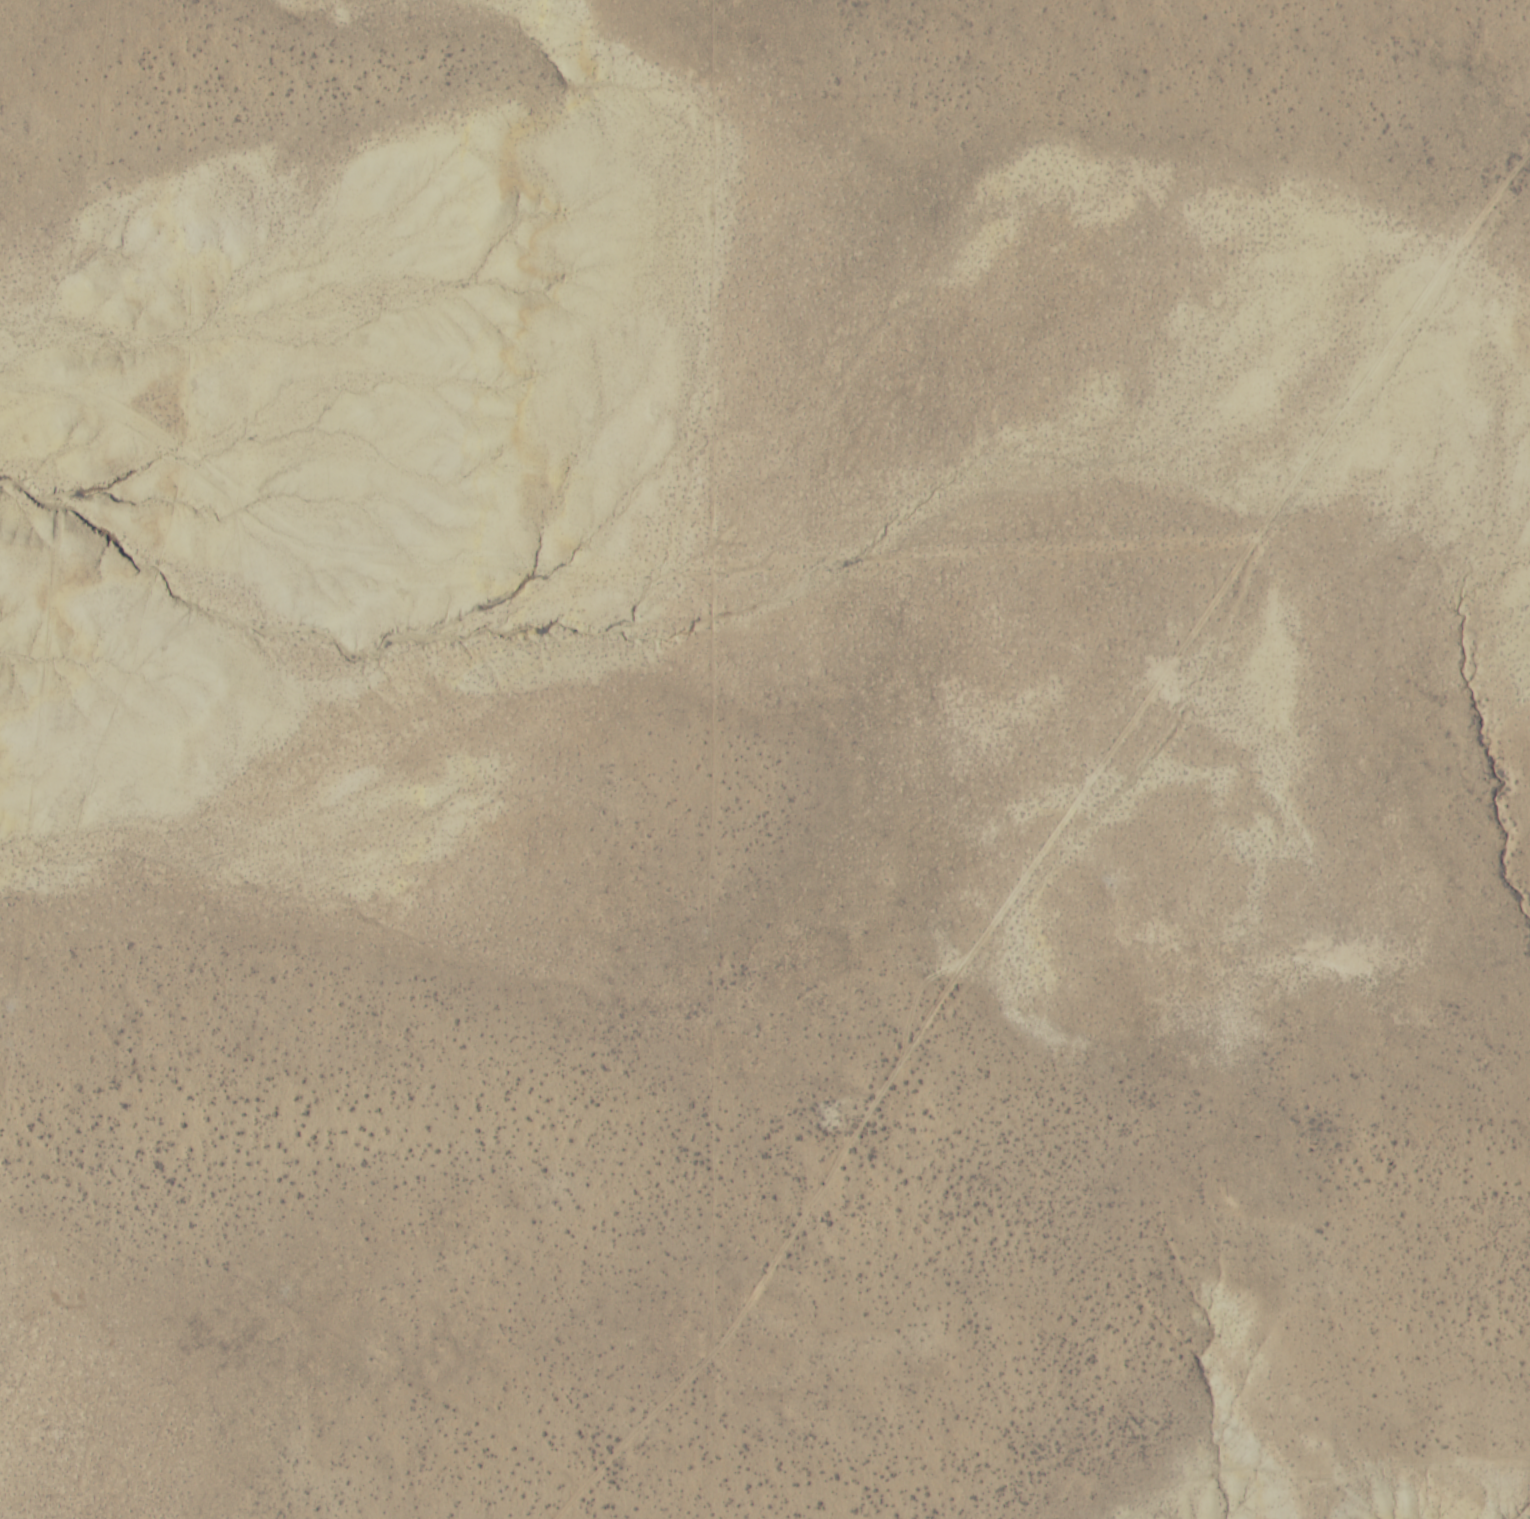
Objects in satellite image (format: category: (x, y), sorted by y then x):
road: (1016, 776)

